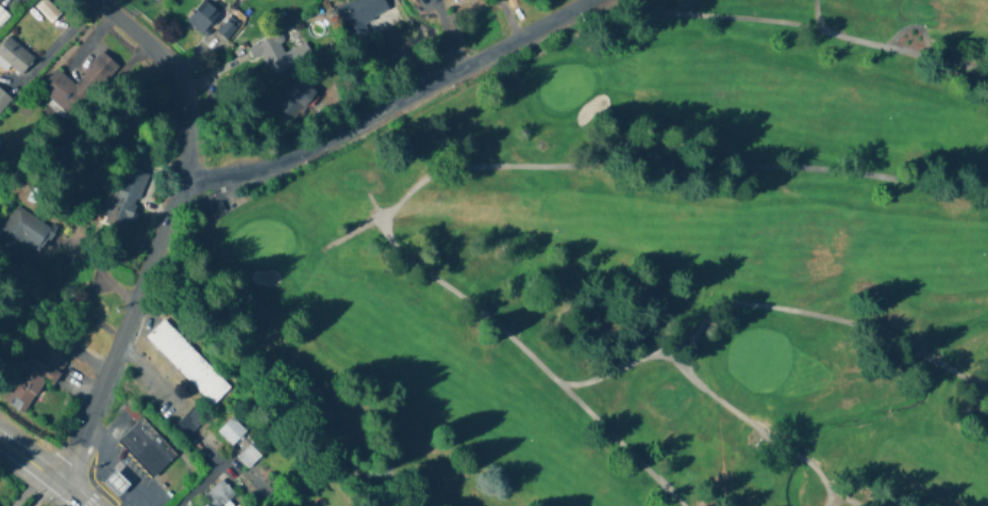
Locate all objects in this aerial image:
building: (153, 0)
building: (361, 11)
building: (205, 18)
building: (279, 55)
building: (13, 58)
building: (78, 85)
building: (295, 100)
building: (3, 101)
road: (394, 104)
building: (127, 194)
building: (28, 231)
road: (166, 233)
park: (652, 265)
building: (185, 359)
building: (36, 378)
building: (231, 431)
building: (145, 448)
building: (248, 457)
road: (122, 462)
road: (41, 472)
building: (117, 483)
gas station: (117, 483)
road: (38, 490)
building: (218, 496)

